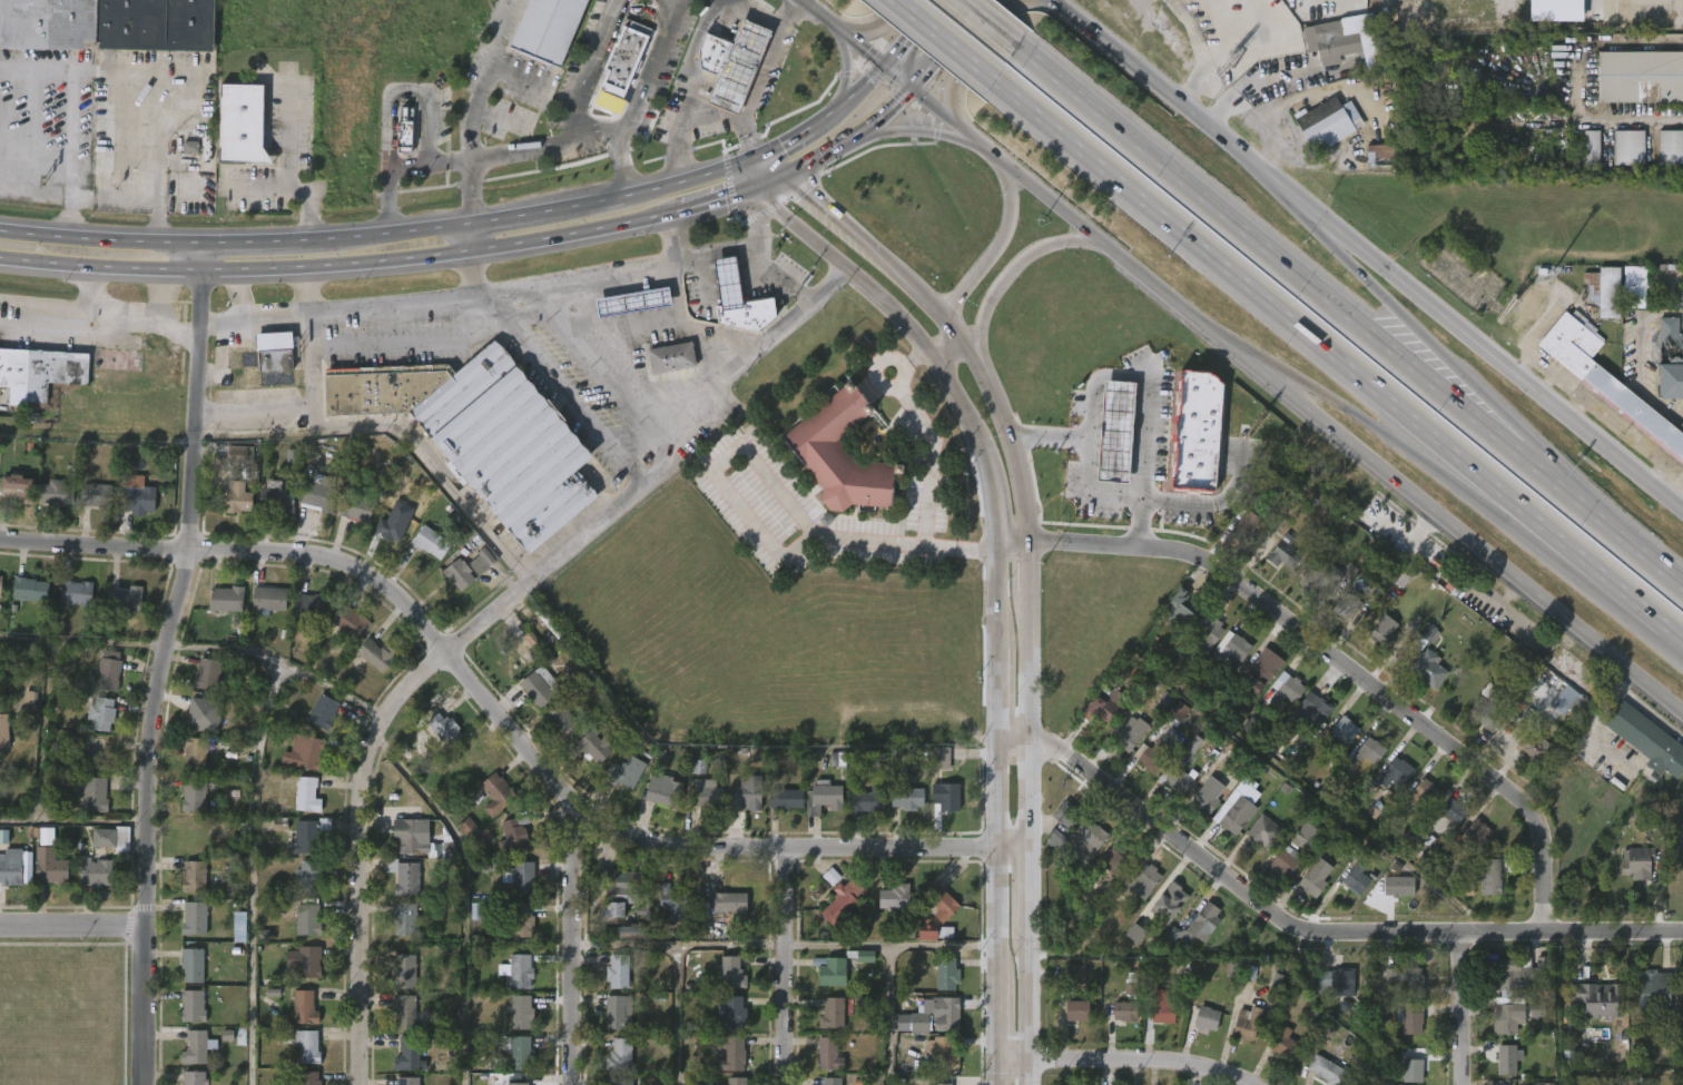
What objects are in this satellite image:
road: (1055, 1)
road: (1259, 2)
building: (1548, 3)
building: (1234, 13)
road: (817, 14)
road: (771, 22)
road: (992, 22)
building: (46, 23)
building: (156, 24)
building: (547, 28)
road: (875, 28)
road: (912, 34)
road: (946, 40)
road: (1232, 41)
building: (1347, 41)
road: (982, 43)
road: (947, 47)
building: (713, 56)
building: (626, 59)
building: (738, 66)
gas station: (738, 66)
road: (693, 67)
traffic signals: (886, 68)
road: (652, 69)
road: (847, 69)
road: (91, 72)
road: (764, 72)
building: (1641, 76)
road: (1576, 82)
road: (409, 88)
traffic signals: (916, 92)
road: (1249, 92)
road: (847, 108)
road: (893, 111)
road: (574, 117)
road: (173, 119)
road: (69, 121)
building: (239, 122)
building: (1325, 124)
road: (707, 127)
building: (404, 131)
road: (943, 139)
building: (397, 142)
road: (617, 142)
building: (1592, 146)
road: (467, 147)
building: (1630, 147)
building: (1671, 147)
road: (785, 148)
building: (1382, 154)
road: (831, 157)
building: (184, 159)
building: (1621, 159)
building: (1584, 160)
road: (392, 164)
road: (748, 167)
road: (778, 167)
building: (1372, 167)
road: (285, 171)
road: (740, 185)
road: (770, 187)
road: (255, 188)
road: (678, 190)
road: (721, 204)
road: (548, 217)
road: (1312, 220)
road: (394, 238)
road: (669, 239)
road: (104, 241)
road: (469, 244)
road: (265, 246)
road: (1266, 247)
road: (872, 249)
road: (1368, 256)
road: (991, 257)
road: (1014, 269)
road: (347, 270)
road: (473, 274)
road: (777, 276)
building: (1682, 286)
road: (504, 288)
building: (1605, 289)
road: (238, 293)
road: (1258, 293)
building: (1634, 294)
building: (738, 299)
building: (632, 302)
gas station: (632, 302)
building: (1595, 304)
road: (61, 305)
road: (1391, 306)
building: (1675, 306)
road: (142, 310)
building: (626, 314)
road: (1534, 336)
road: (413, 342)
road: (939, 349)
building: (274, 353)
road: (1642, 353)
road: (222, 356)
building: (671, 357)
road: (1254, 357)
building: (1669, 358)
building: (665, 369)
road: (601, 371)
road: (1259, 371)
building: (38, 373)
road: (1138, 376)
building: (1606, 378)
road: (1545, 384)
building: (380, 387)
road: (567, 388)
road: (1483, 407)
road: (257, 408)
road: (1581, 412)
road: (1357, 414)
road: (1607, 416)
road: (1005, 428)
building: (1194, 433)
building: (508, 444)
building: (1109, 444)
road: (934, 450)
building: (840, 454)
building: (230, 465)
road: (1472, 484)
building: (16, 490)
building: (57, 493)
building: (321, 494)
road: (1095, 494)
building: (98, 495)
building: (137, 499)
building: (276, 499)
building: (237, 500)
road: (1187, 503)
building: (49, 505)
building: (355, 507)
building: (90, 509)
building: (269, 510)
building: (132, 512)
building: (232, 513)
building: (328, 515)
road: (1598, 517)
building: (1246, 525)
road: (765, 533)
building: (1239, 536)
building: (431, 541)
road: (1010, 544)
building: (1282, 552)
building: (424, 554)
building: (1276, 564)
road: (543, 565)
road: (1028, 566)
building: (466, 568)
road: (1601, 573)
building: (1315, 580)
building: (1346, 582)
building: (452, 586)
building: (28, 589)
road: (993, 592)
building: (73, 593)
building: (267, 598)
building: (121, 599)
building: (226, 600)
building: (24, 602)
building: (69, 604)
building: (1345, 605)
building: (314, 608)
building: (1182, 608)
building: (220, 611)
building: (263, 611)
building: (119, 612)
building: (304, 618)
building: (1174, 619)
building: (352, 621)
building: (1205, 629)
building: (342, 633)
building: (1381, 633)
road: (228, 642)
building: (1233, 645)
building: (376, 654)
building: (518, 657)
building: (1226, 659)
road: (163, 663)
building: (367, 667)
building: (1425, 668)
building: (108, 671)
building: (1260, 671)
road: (1347, 671)
building: (207, 673)
building: (1420, 680)
building: (539, 688)
building: (1286, 688)
building: (533, 700)
building: (1278, 702)
building: (1571, 702)
building: (1108, 703)
building: (1492, 706)
building: (100, 712)
building: (326, 712)
building: (1556, 712)
building: (201, 713)
building: (1157, 713)
building: (1306, 714)
building: (564, 721)
road: (1032, 723)
building: (1171, 723)
building: (316, 724)
building: (95, 726)
road: (502, 726)
building: (1340, 728)
building: (4, 731)
building: (442, 731)
building: (554, 733)
building: (1122, 738)
building: (1647, 739)
building: (437, 742)
building: (1337, 742)
building: (1532, 746)
building: (593, 748)
building: (1370, 751)
building: (303, 752)
building: (195, 754)
building: (1241, 756)
building: (1154, 757)
building: (938, 758)
building: (470, 760)
building: (585, 760)
building: (1182, 760)
building: (1527, 761)
building: (1359, 762)
building: (297, 765)
building: (1397, 769)
building: (629, 771)
building: (1177, 781)
building: (620, 785)
building: (1390, 787)
building: (305, 792)
building: (744, 792)
building: (1170, 792)
building: (1424, 792)
building: (93, 793)
building: (193, 795)
building: (496, 795)
building: (665, 795)
building: (1205, 795)
building: (705, 796)
building: (823, 797)
building: (942, 797)
road: (361, 798)
building: (786, 798)
building: (905, 798)
building: (865, 800)
building: (490, 806)
building: (657, 806)
building: (299, 807)
building: (1415, 807)
building: (739, 808)
building: (187, 810)
road: (256, 810)
building: (900, 810)
building: (778, 811)
building: (857, 813)
building: (1064, 815)
building: (1232, 815)
building: (1446, 816)
building: (1262, 830)
building: (1476, 831)
building: (406, 834)
building: (514, 835)
building: (311, 836)
building: (196, 837)
building: (1086, 838)
building: (109, 839)
building: (1256, 841)
building: (0, 845)
building: (1470, 845)
building: (504, 849)
building: (97, 850)
building: (298, 850)
building: (116, 851)
building: (1047, 851)
building: (1081, 852)
building: (1115, 859)
building: (1282, 861)
building: (1636, 862)
building: (12, 870)
building: (53, 870)
building: (95, 872)
building: (1630, 875)
building: (196, 876)
building: (305, 876)
building: (403, 876)
building: (1276, 876)
building: (1488, 876)
building: (522, 877)
building: (1316, 877)
building: (1142, 880)
building: (1354, 880)
building: (89, 885)
building: (1397, 885)
building: (188, 888)
building: (824, 888)
building: (397, 889)
building: (1482, 889)
building: (513, 890)
building: (1347, 890)
road: (1032, 891)
road: (464, 895)
building: (626, 895)
building: (894, 896)
building: (1395, 899)
building: (840, 900)
building: (941, 900)
building: (1168, 900)
building: (731, 901)
building: (671, 902)
building: (886, 909)
building: (661, 913)
building: (934, 914)
building: (725, 916)
building: (194, 918)
building: (306, 918)
building: (405, 919)
building: (525, 919)
building: (608, 921)
building: (469, 923)
building: (1200, 923)
road: (71, 926)
building: (188, 930)
building: (631, 930)
building: (301, 931)
building: (397, 931)
building: (514, 933)
road: (1309, 936)
building: (921, 943)
road: (572, 945)
road: (624, 945)
building: (627, 945)
road: (838, 945)
building: (1128, 945)
building: (303, 959)
road: (676, 960)
building: (191, 963)
road: (890, 963)
building: (520, 969)
road: (786, 969)
building: (829, 969)
building: (617, 970)
building: (407, 971)
building: (729, 973)
building: (947, 973)
building: (298, 974)
building: (1543, 974)
building: (1512, 975)
building: (186, 978)
building: (1404, 979)
building: (1335, 982)
building: (397, 983)
building: (512, 983)
building: (611, 983)
building: (825, 984)
building: (1067, 984)
building: (939, 986)
building: (1394, 988)
building: (1654, 989)
building: (1328, 993)
building: (1596, 997)
building: (190, 1004)
building: (303, 1006)
road: (1030, 1006)
building: (1162, 1007)
building: (403, 1010)
building: (618, 1010)
road: (1460, 1010)
building: (521, 1012)
building: (1074, 1012)
building: (1122, 1012)
building: (1588, 1012)
building: (1508, 1013)
building: (731, 1014)
building: (829, 1014)
building: (935, 1015)
building: (1409, 1015)
building: (1207, 1017)
building: (186, 1018)
building: (297, 1019)
building: (1155, 1019)
building: (1070, 1023)
building: (1118, 1023)
building: (398, 1024)
building: (514, 1024)
building: (610, 1024)
building: (1244, 1024)
building: (925, 1028)
building: (1499, 1029)
building: (1200, 1030)
building: (1402, 1033)
building: (1238, 1037)
building: (1282, 1044)
building: (195, 1046)
building: (305, 1046)
building: (520, 1052)
building: (730, 1052)
building: (406, 1053)
building: (620, 1054)
building: (826, 1054)
building: (942, 1054)
building: (299, 1058)
building: (1507, 1058)
building: (935, 1064)
building: (513, 1065)
building: (724, 1065)
building: (821, 1066)
building: (613, 1067)
road: (1114, 1071)
building: (1326, 1071)
building: (1410, 1071)
building: (1498, 1071)
building: (194, 1077)
building: (304, 1077)
road: (1134, 1077)
building: (1317, 1078)
building: (407, 1079)
building: (735, 1079)
building: (618, 1081)
building: (830, 1081)
building: (516, 1084)
building: (942, 1084)

